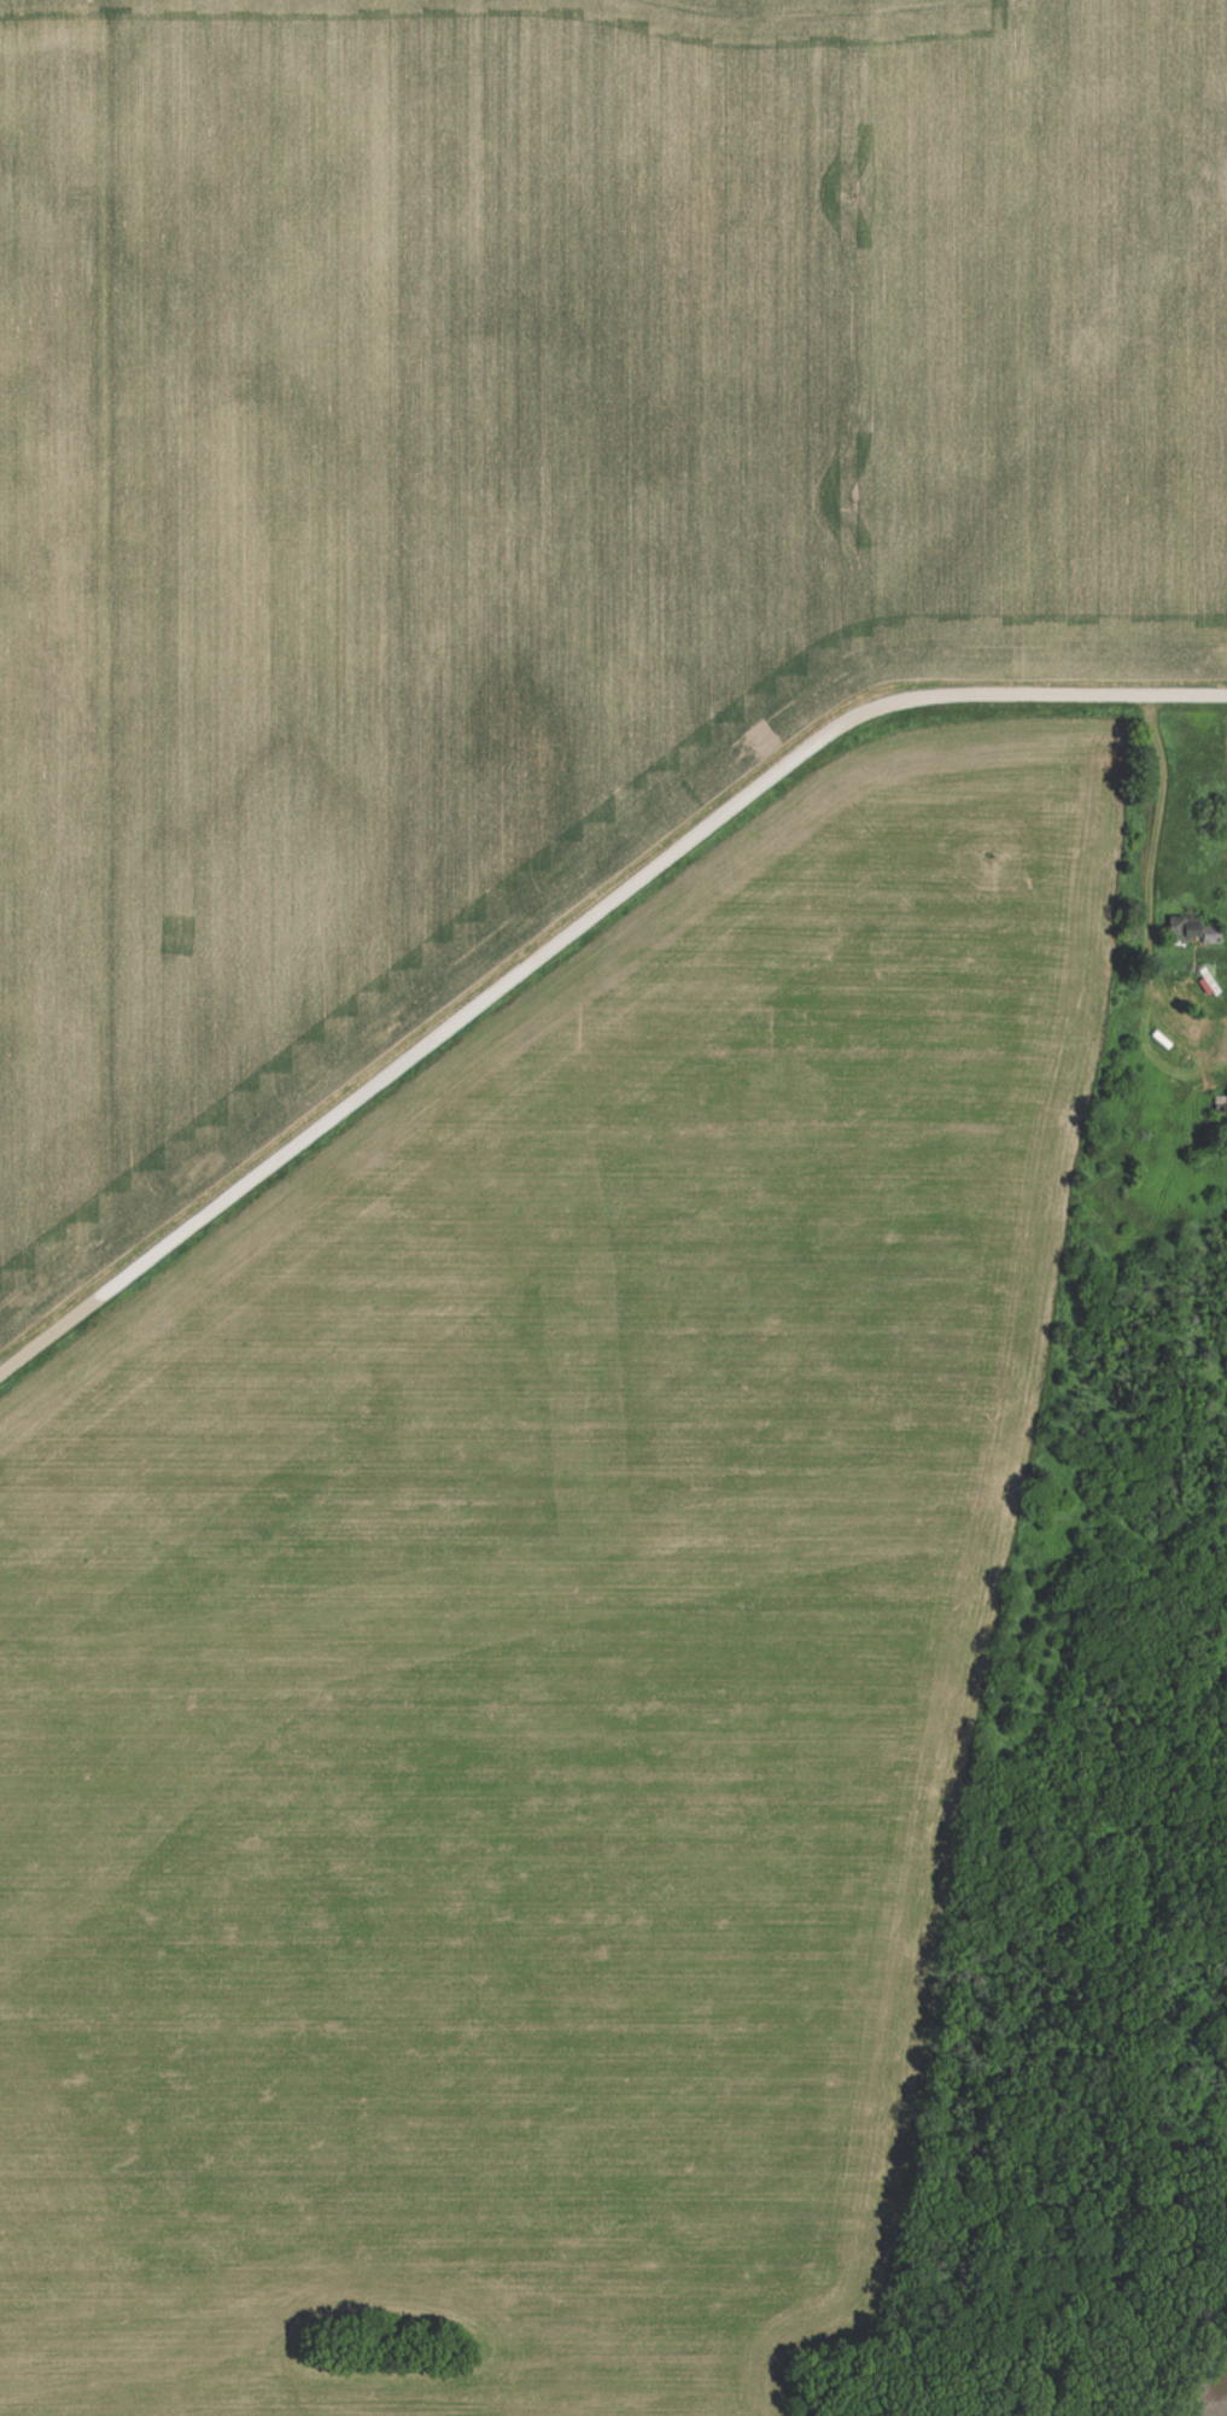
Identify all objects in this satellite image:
road: (569, 904)

